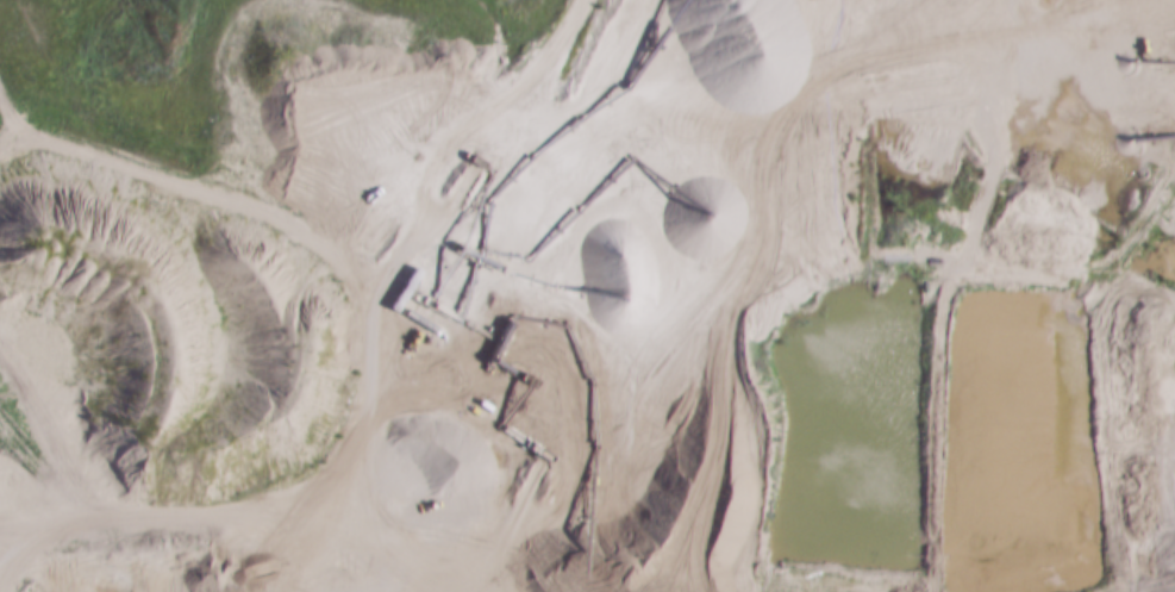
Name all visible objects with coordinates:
quarry: (640, 287)

